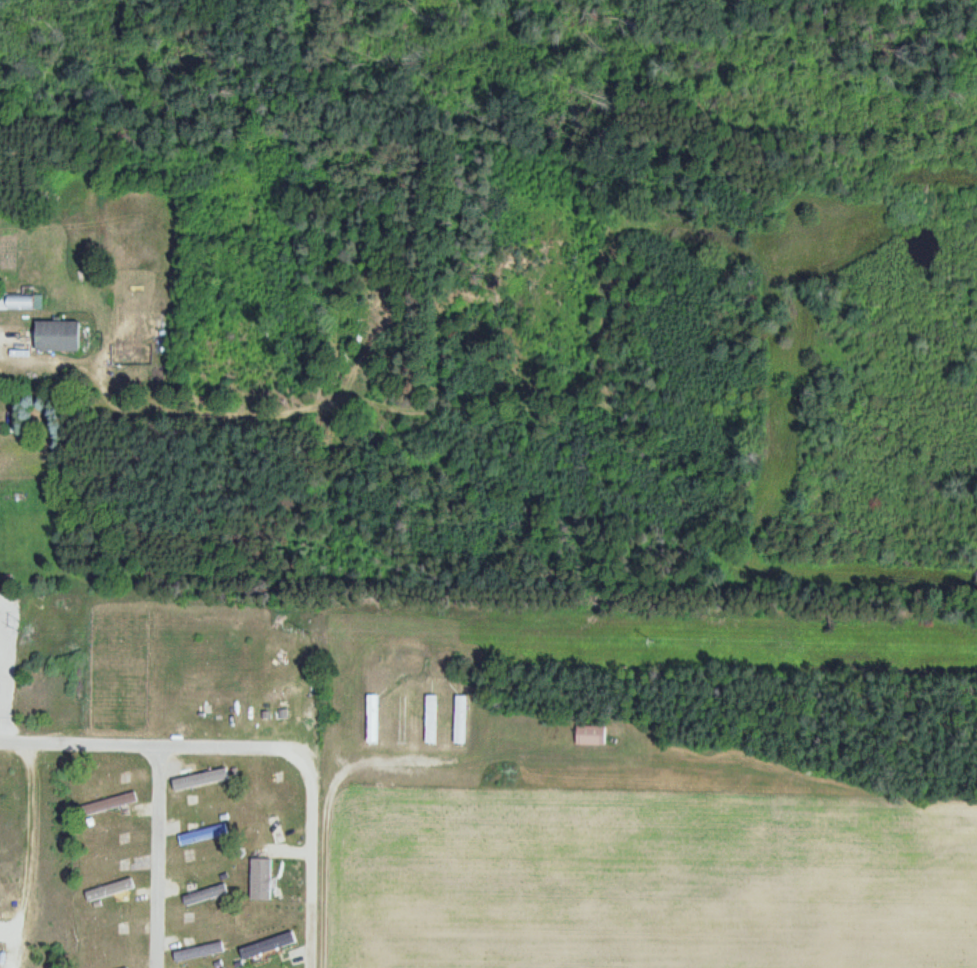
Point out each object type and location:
building: (20, 302)
building: (62, 336)
building: (371, 719)
building: (429, 720)
building: (459, 720)
building: (588, 735)
road: (127, 746)
building: (202, 781)
building: (109, 804)
road: (310, 838)
road: (154, 857)
building: (260, 880)
building: (108, 890)
building: (203, 895)
building: (199, 951)
building: (127, 967)

